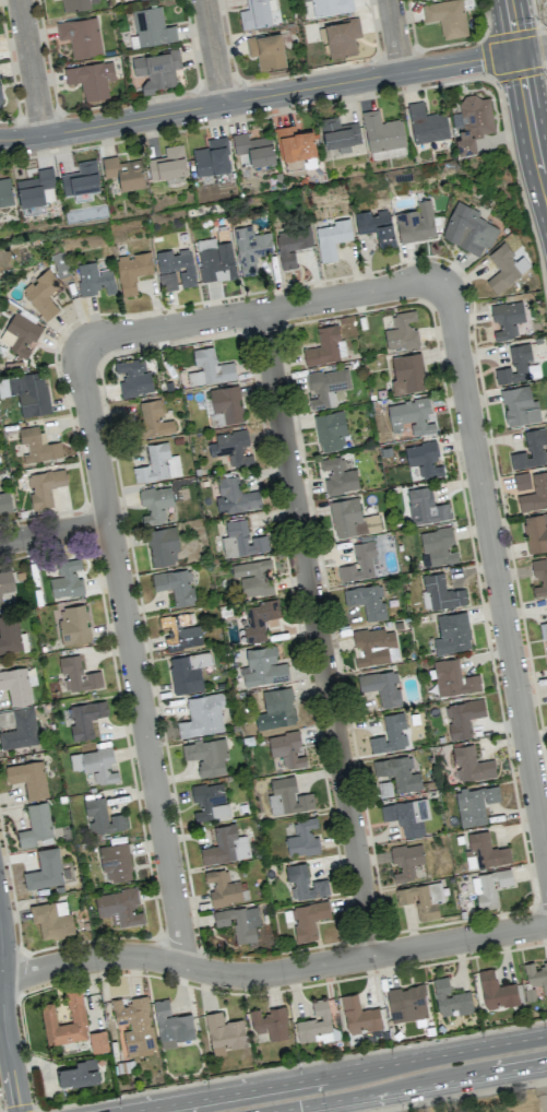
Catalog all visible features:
building: (79, 4)
building: (331, 7)
building: (254, 14)
building: (447, 17)
road: (511, 25)
building: (151, 27)
building: (81, 36)
road: (394, 36)
building: (340, 37)
road: (545, 46)
building: (266, 50)
road: (211, 51)
traffic signals: (516, 51)
road: (29, 68)
building: (156, 69)
building: (91, 79)
road: (272, 94)
building: (0, 99)
building: (472, 122)
building: (426, 123)
road: (530, 125)
building: (338, 133)
building: (382, 135)
building: (294, 143)
building: (253, 149)
building: (211, 157)
building: (167, 163)
building: (123, 171)
building: (81, 180)
building: (36, 190)
building: (5, 192)
building: (416, 223)
building: (376, 226)
building: (468, 229)
building: (332, 238)
building: (290, 246)
building: (250, 248)
building: (215, 260)
building: (175, 268)
building: (504, 268)
building: (132, 271)
building: (94, 280)
building: (41, 294)
road: (262, 309)
building: (506, 319)
building: (401, 331)
building: (19, 334)
building: (325, 345)
building: (516, 366)
building: (209, 368)
building: (407, 374)
building: (132, 377)
building: (328, 387)
building: (32, 393)
building: (226, 403)
building: (519, 406)
building: (409, 416)
building: (153, 419)
building: (330, 430)
building: (37, 446)
building: (231, 447)
building: (531, 450)
building: (424, 459)
building: (157, 464)
building: (337, 475)
building: (44, 487)
building: (539, 490)
building: (235, 497)
building: (4, 502)
building: (155, 504)
building: (425, 507)
building: (350, 518)
road: (53, 532)
building: (535, 532)
building: (241, 541)
building: (163, 546)
building: (437, 548)
building: (359, 563)
building: (539, 576)
road: (496, 577)
building: (253, 578)
building: (67, 579)
building: (5, 583)
building: (175, 585)
building: (441, 592)
building: (367, 601)
building: (259, 619)
building: (73, 624)
building: (543, 629)
building: (180, 630)
road: (316, 632)
building: (452, 632)
building: (9, 634)
building: (372, 646)
building: (546, 648)
road: (130, 655)
building: (263, 667)
building: (187, 672)
building: (76, 674)
building: (453, 678)
building: (15, 685)
building: (381, 686)
building: (278, 707)
building: (202, 715)
building: (462, 717)
building: (84, 719)
building: (20, 730)
building: (390, 734)
building: (286, 748)
building: (206, 756)
building: (94, 765)
building: (471, 765)
building: (399, 772)
building: (28, 778)
building: (384, 789)
building: (287, 796)
building: (210, 802)
building: (475, 804)
building: (407, 816)
building: (102, 817)
building: (36, 826)
building: (302, 838)
building: (225, 845)
building: (484, 851)
building: (406, 861)
building: (115, 862)
building: (45, 870)
building: (304, 883)
building: (223, 887)
building: (489, 887)
building: (421, 898)
building: (120, 907)
building: (51, 919)
building: (308, 920)
building: (239, 922)
road: (272, 972)
building: (536, 974)
building: (496, 991)
building: (450, 998)
building: (406, 1003)
building: (75, 1013)
building: (359, 1015)
road: (3, 1021)
building: (270, 1022)
building: (316, 1024)
building: (134, 1025)
building: (171, 1025)
building: (224, 1033)
building: (98, 1041)
building: (78, 1073)
road: (332, 1074)
road: (407, 1087)
traffic signals: (19, 1104)
traffic signals: (299, 1107)

